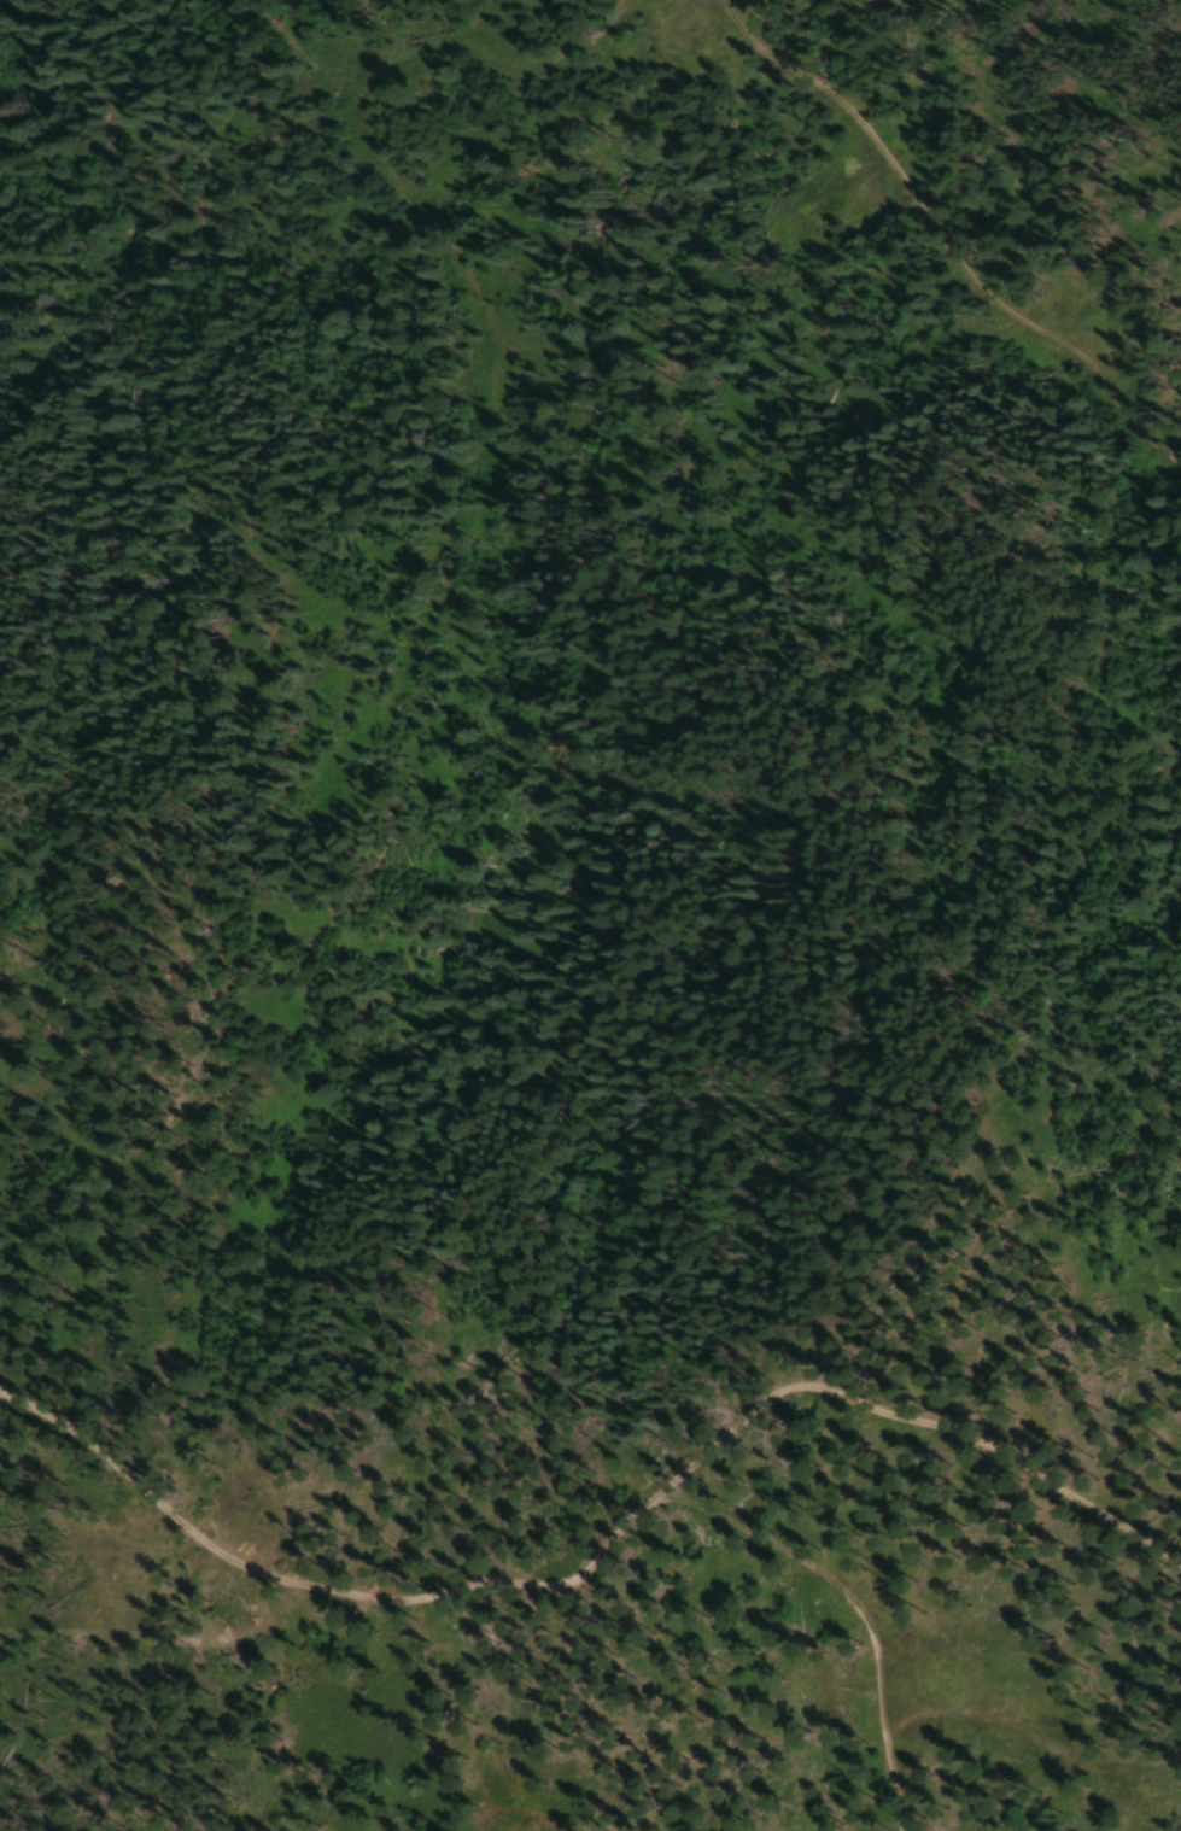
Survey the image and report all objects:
road: (941, 246)
road: (602, 1546)
road: (853, 1611)

